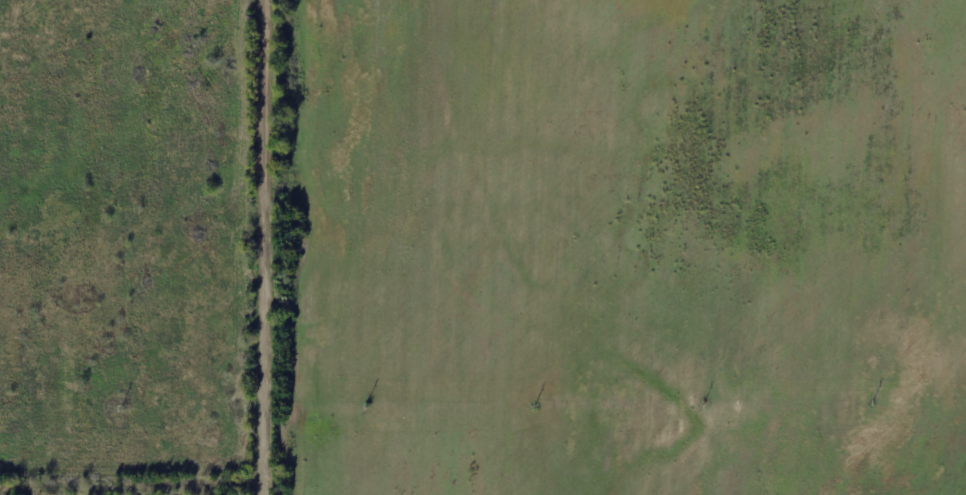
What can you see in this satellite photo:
road: (256, 247)

